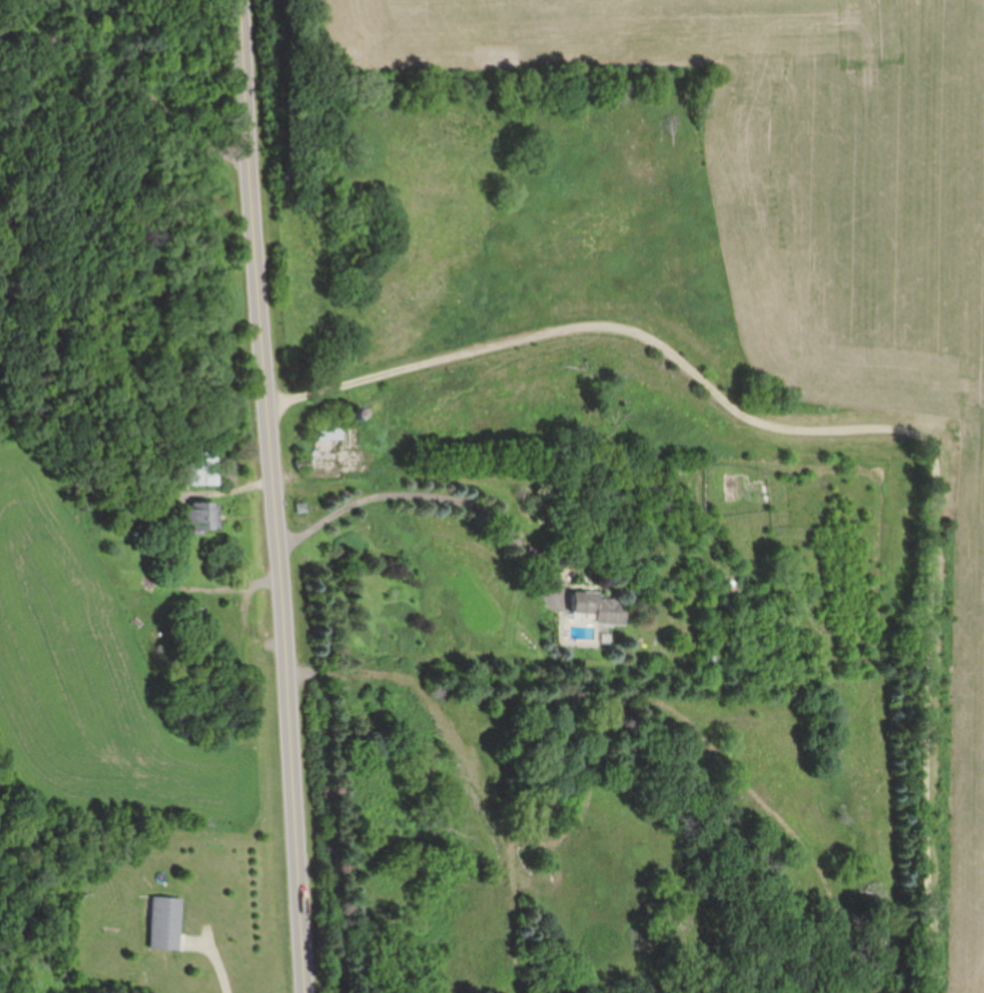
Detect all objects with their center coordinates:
road: (133, 81)
road: (856, 427)
building: (330, 429)
building: (201, 464)
road: (278, 496)
road: (432, 497)
building: (195, 518)
road: (138, 542)
building: (594, 608)
building: (165, 924)
road: (218, 963)

